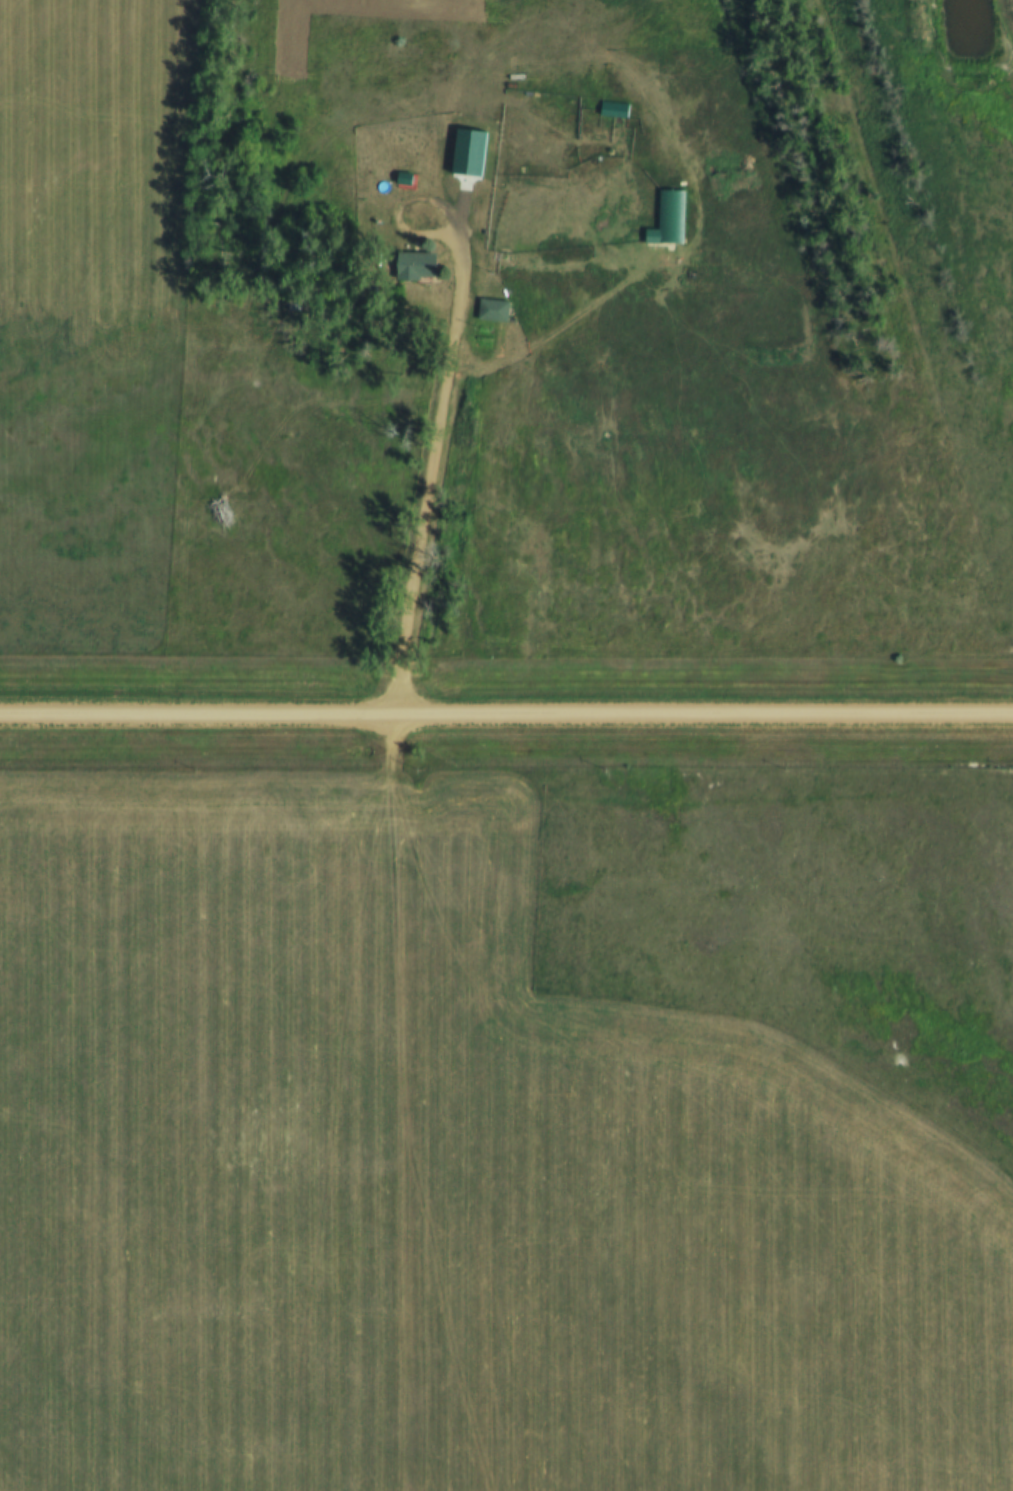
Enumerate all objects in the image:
road: (486, 72)
building: (611, 108)
building: (666, 218)
building: (412, 265)
building: (490, 310)
road: (562, 327)
road: (452, 375)
road: (506, 717)
road: (409, 1102)

